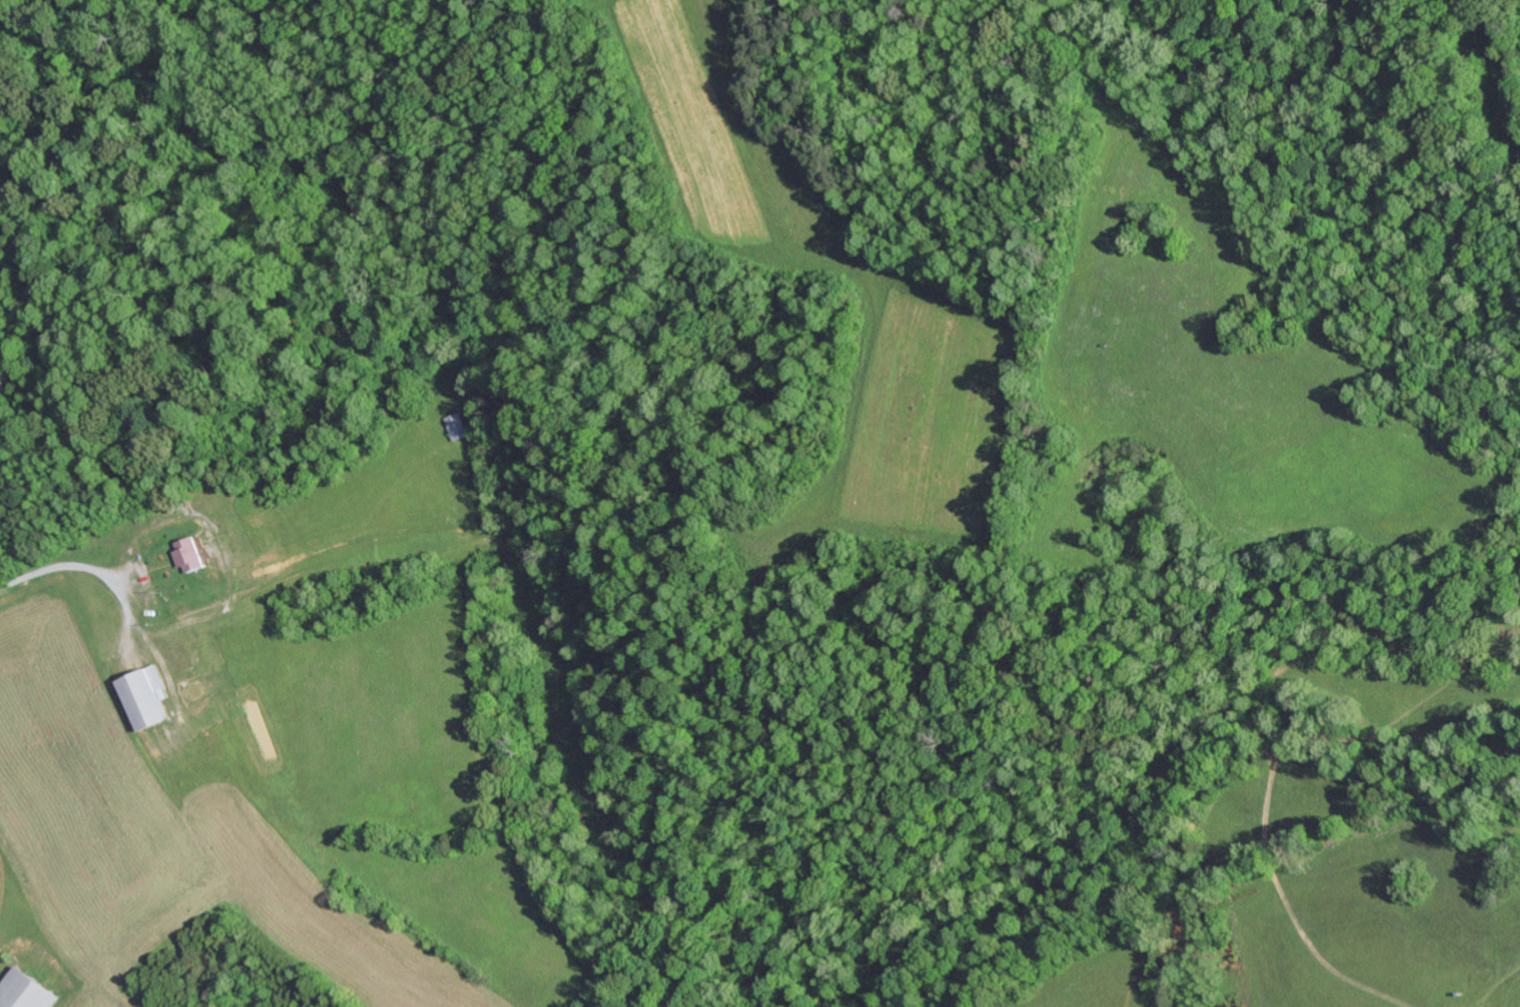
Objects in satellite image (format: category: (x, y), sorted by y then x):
building: (457, 426)
building: (191, 553)
building: (147, 698)
building: (25, 991)

